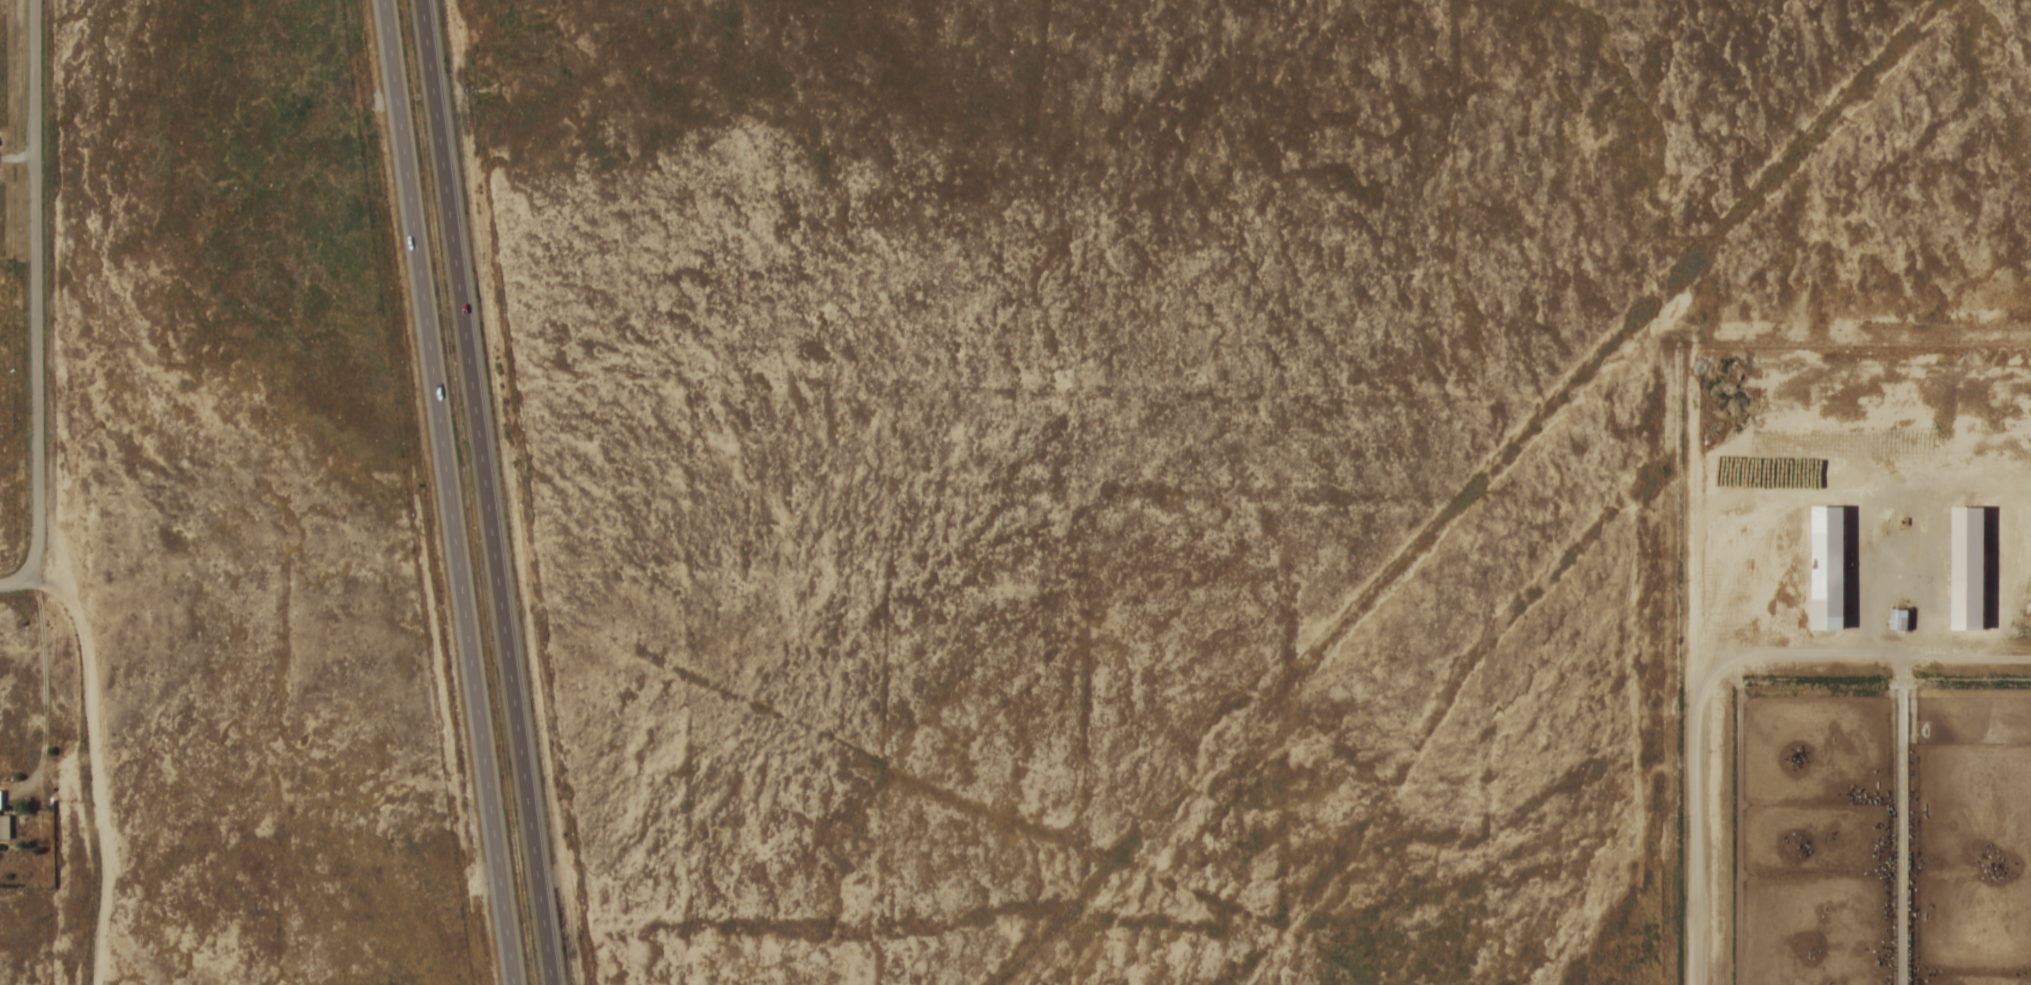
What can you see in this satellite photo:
road: (40, 292)
road: (447, 492)
road: (490, 492)
building: (1827, 566)
building: (1967, 566)
road: (17, 583)
building: (1898, 617)

